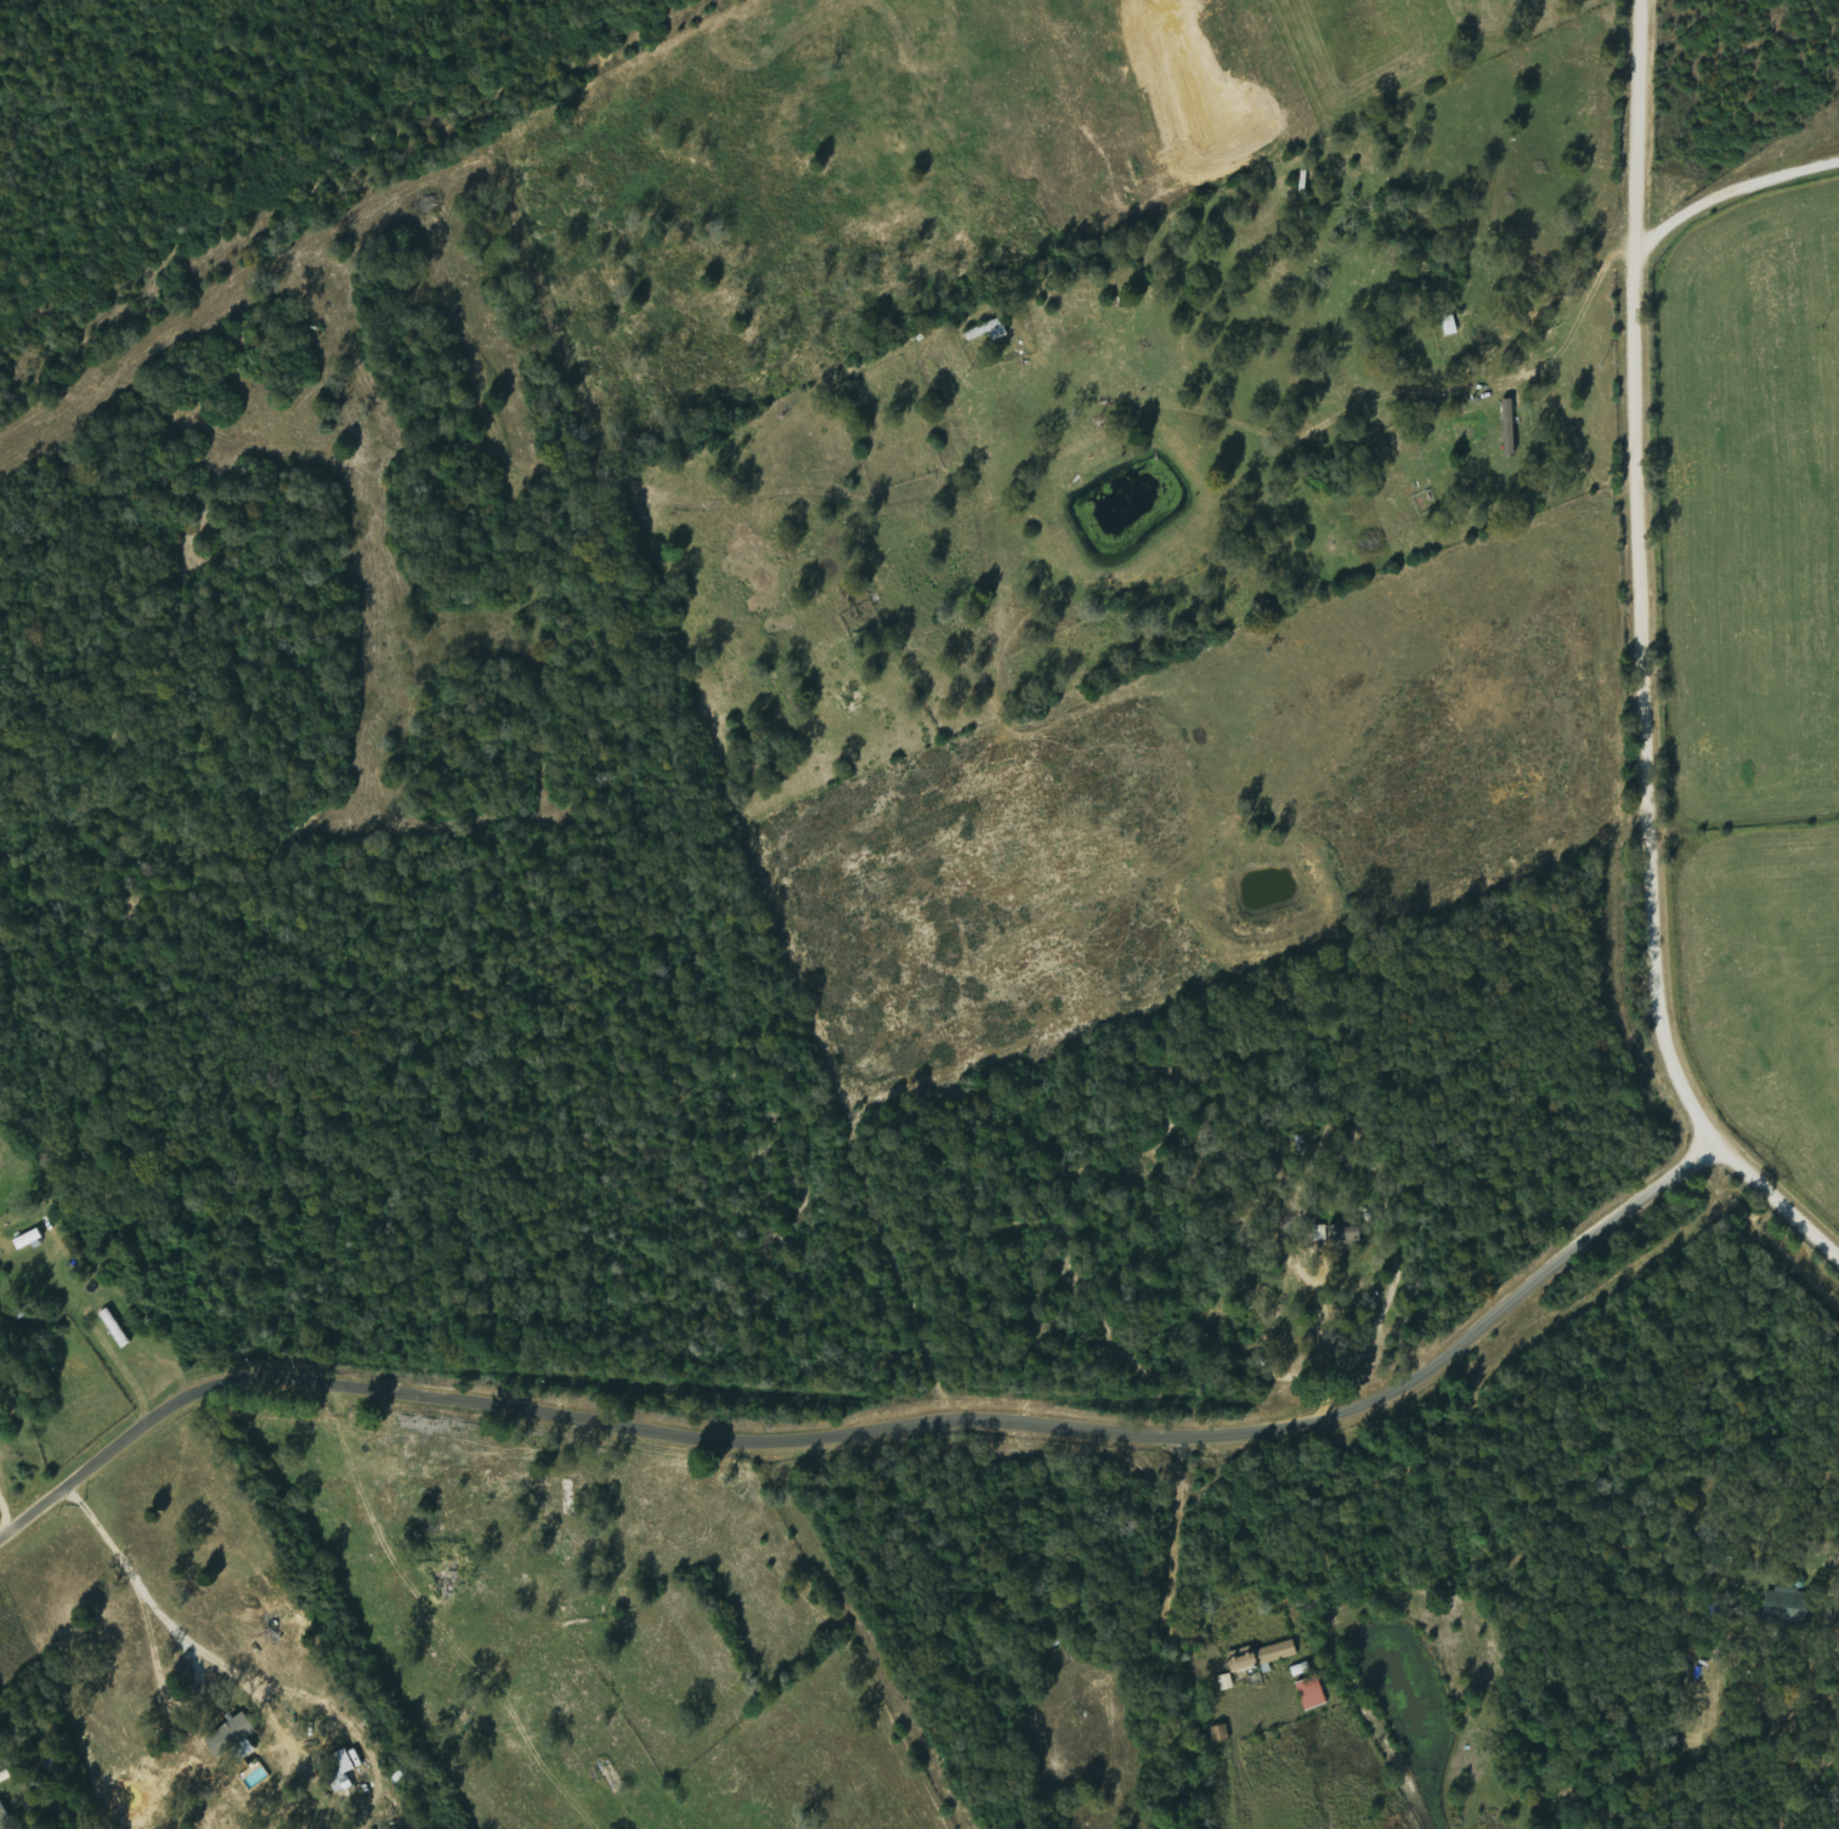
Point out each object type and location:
road: (1301, 217)
building: (991, 332)
building: (1511, 427)
road: (1650, 571)
road: (1772, 1196)
building: (1340, 1231)
building: (29, 1240)
building: (115, 1329)
road: (881, 1436)
building: (1788, 1607)
building: (1264, 1657)
building: (1227, 1683)
building: (1314, 1693)
building: (233, 1735)
building: (339, 1767)
building: (4, 1813)

